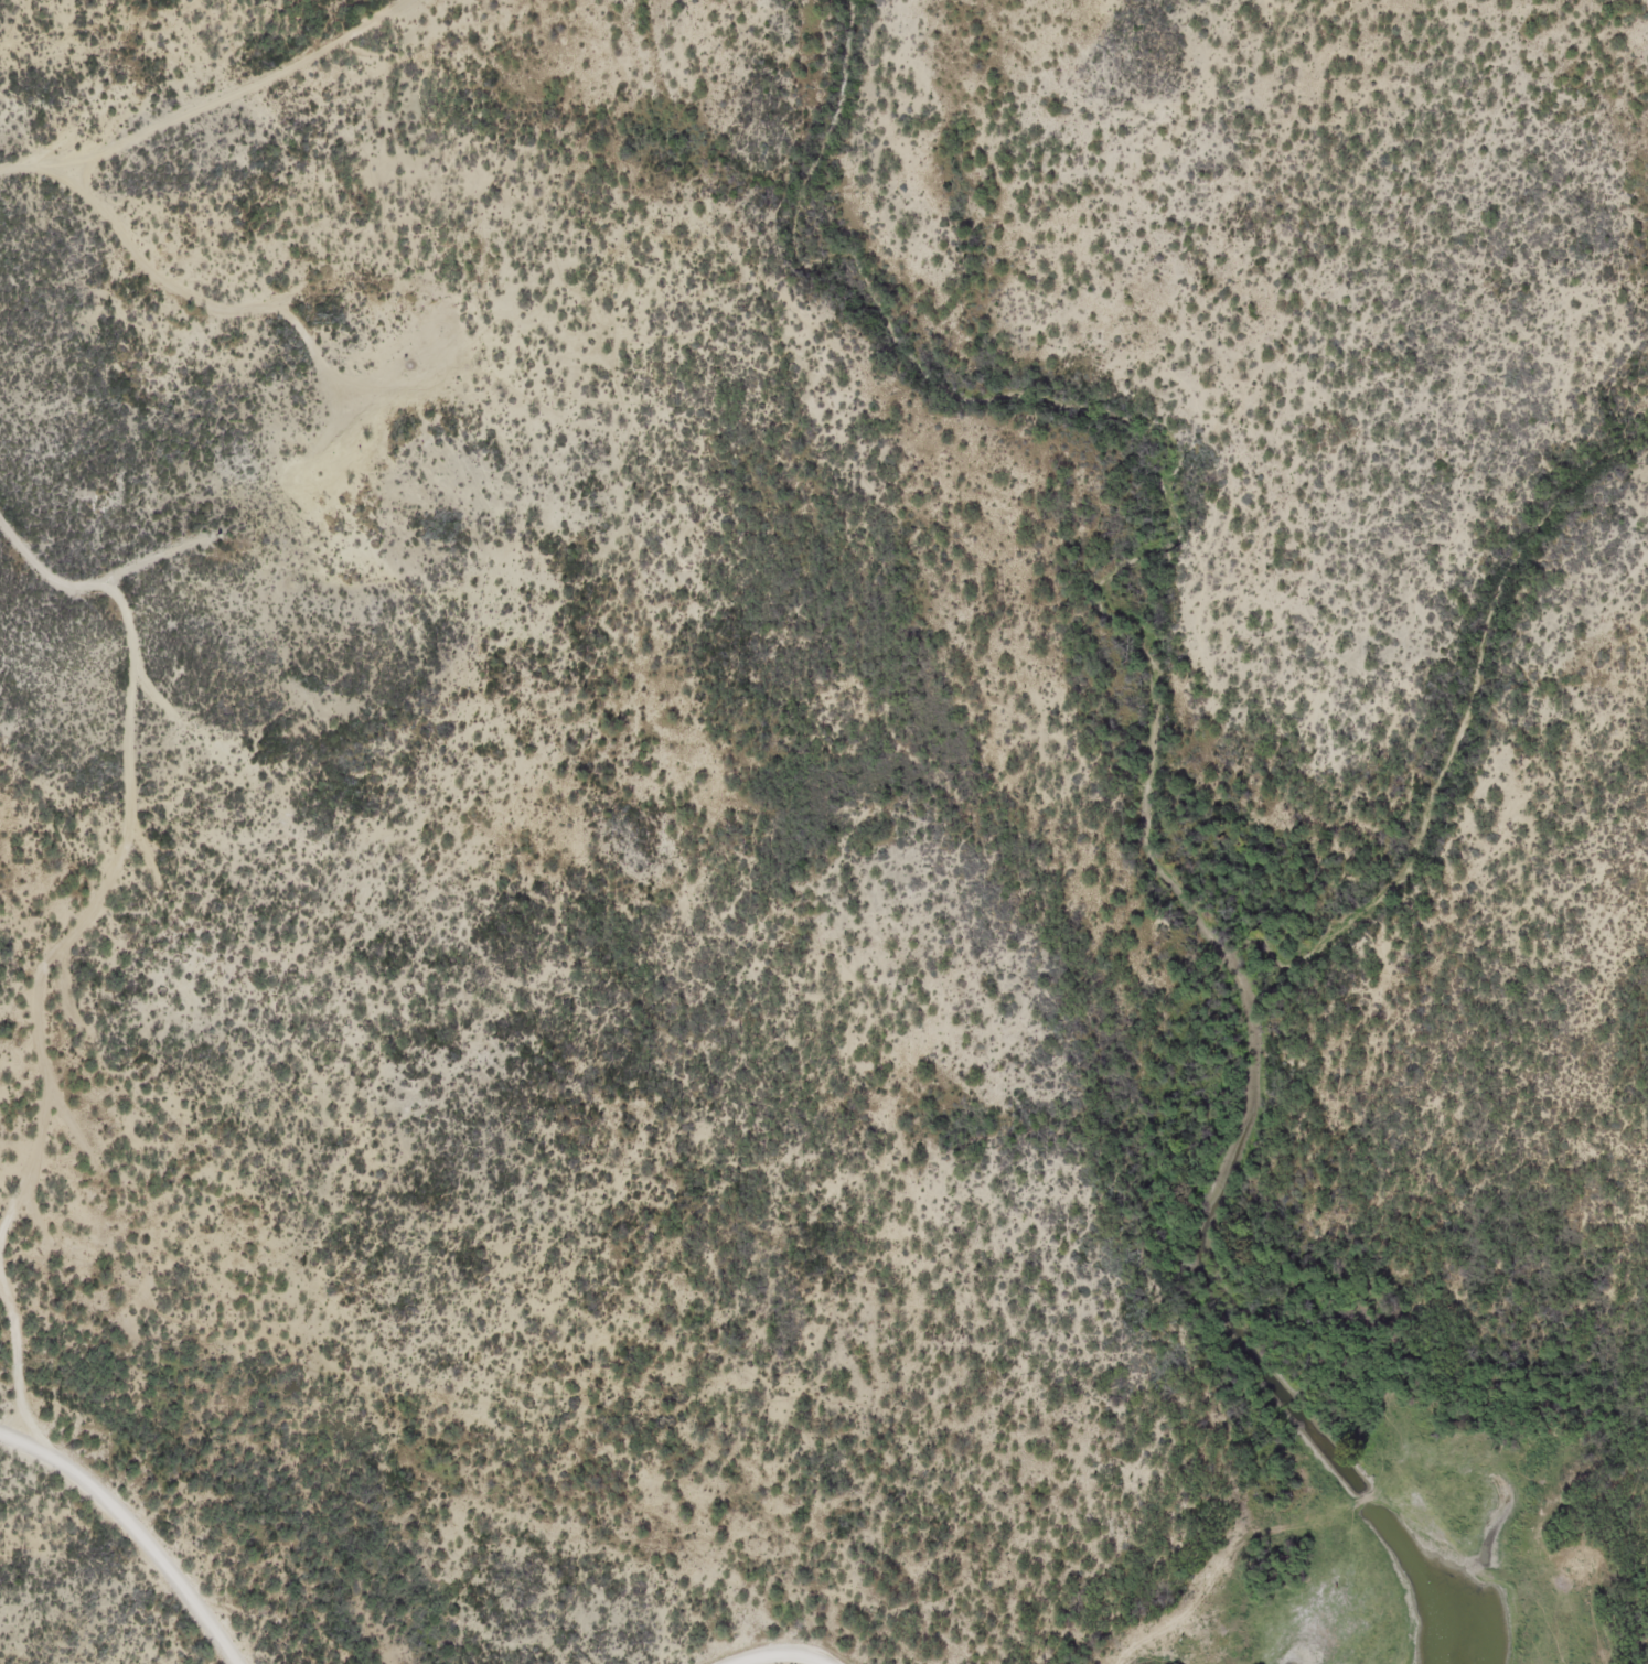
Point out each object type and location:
road: (786, 1660)

